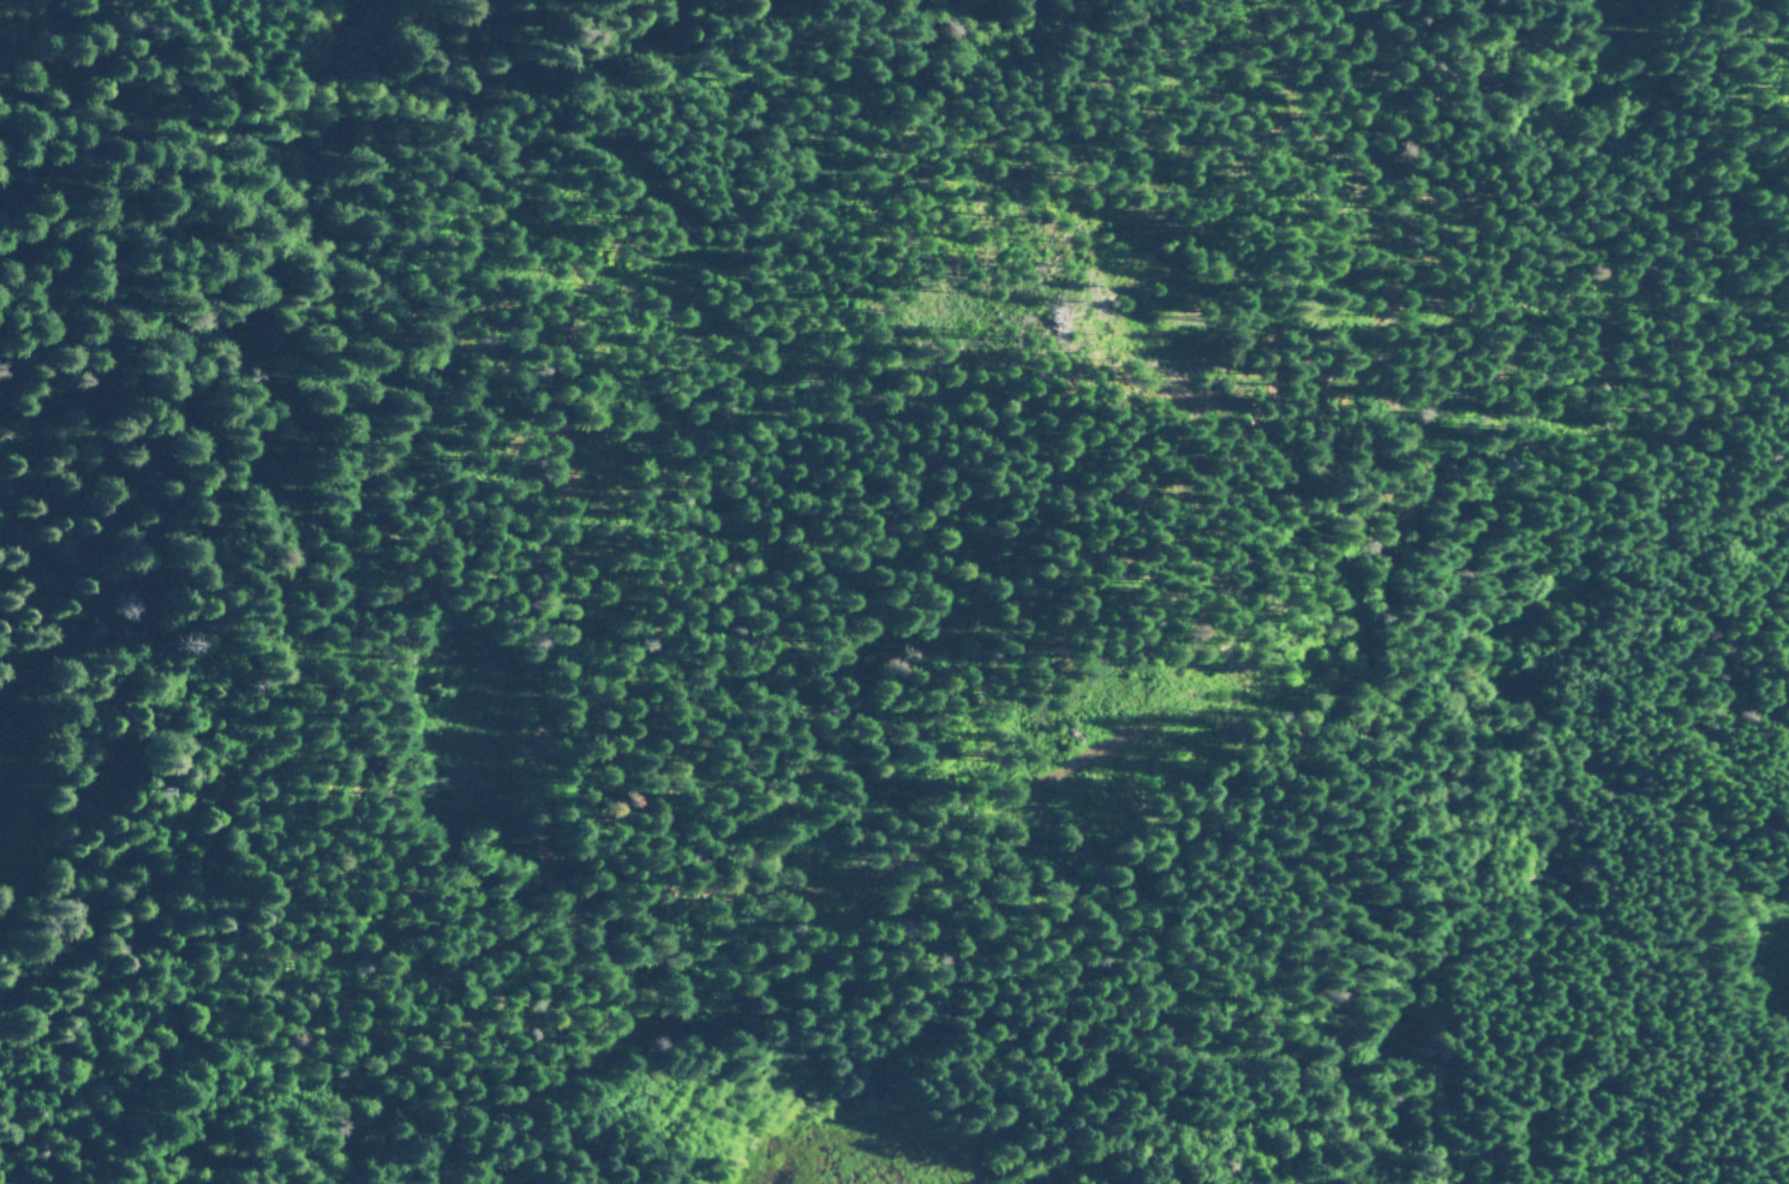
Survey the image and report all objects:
road: (532, 586)

